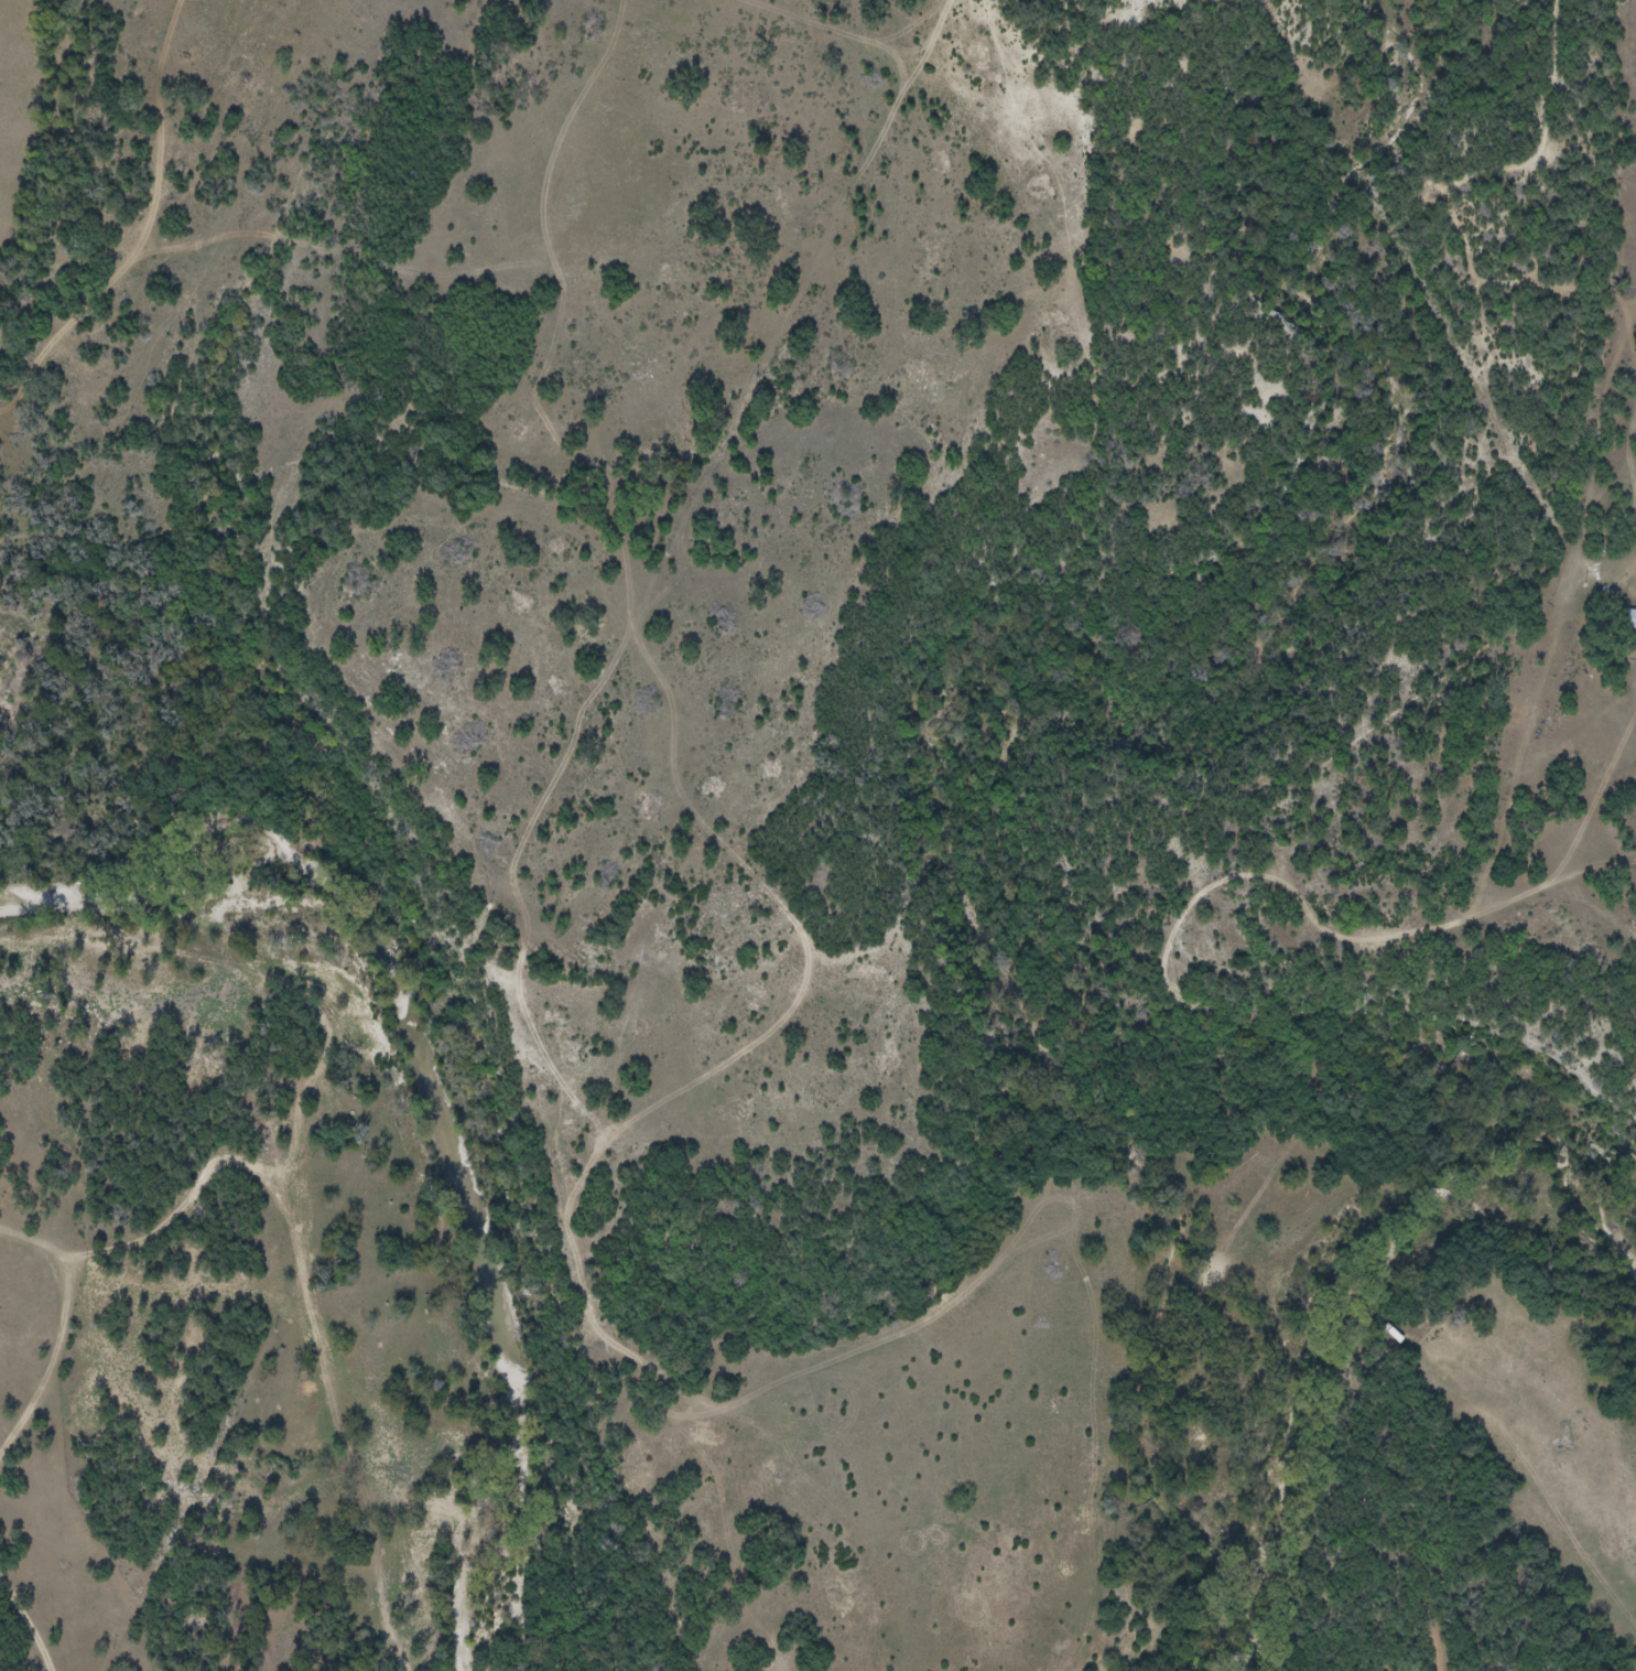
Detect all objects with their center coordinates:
building: (1629, 618)
road: (1388, 937)

